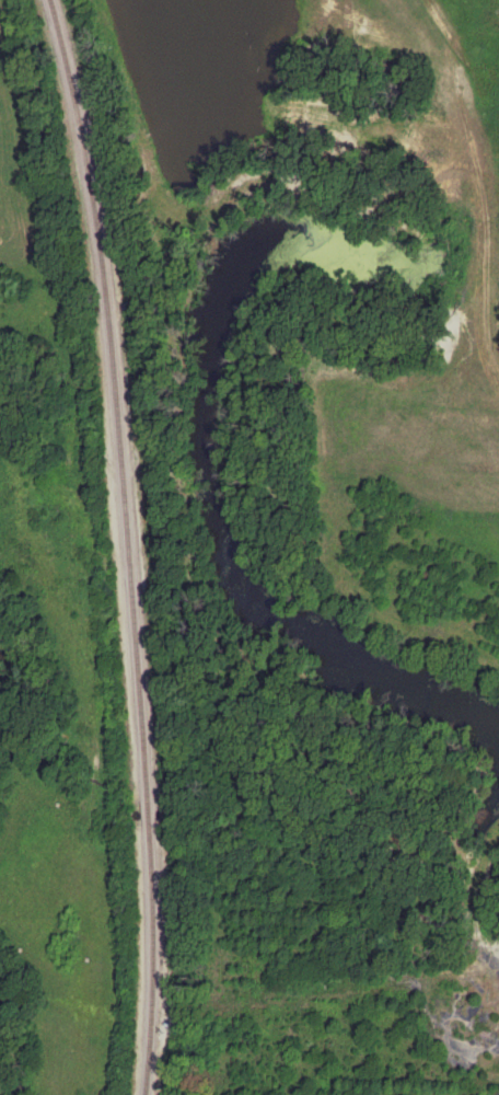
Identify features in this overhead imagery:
railway: (127, 544)

